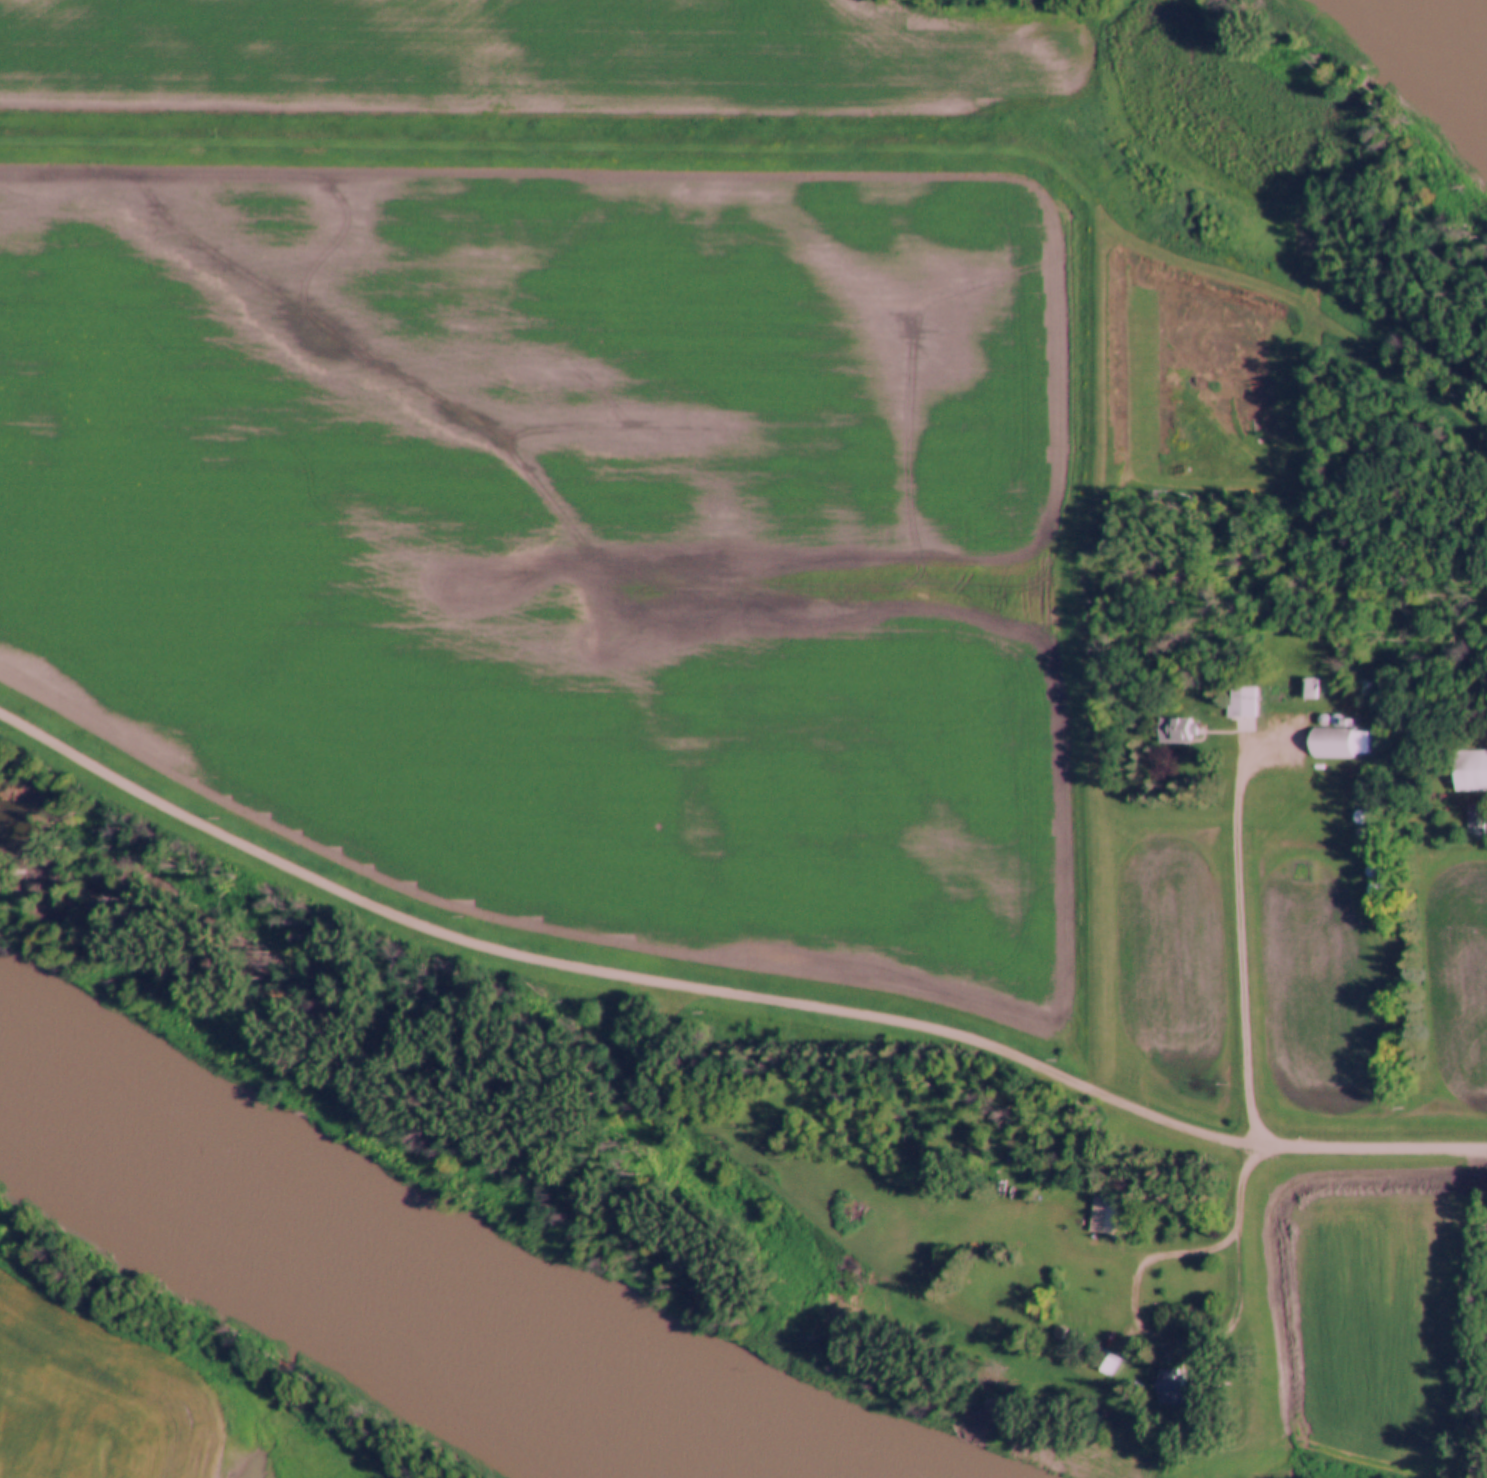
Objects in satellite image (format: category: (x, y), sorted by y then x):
river: (1447, 36)
road: (792, 145)
road: (1078, 655)
building: (1307, 689)
building: (1239, 691)
building: (1175, 731)
building: (1332, 740)
building: (1469, 771)
building: (1476, 819)
road: (1258, 915)
road: (619, 973)
road: (1377, 1145)
building: (1108, 1213)
river: (390, 1267)
building: (994, 1291)
road: (1192, 1337)
building: (1103, 1361)
building: (1170, 1385)

